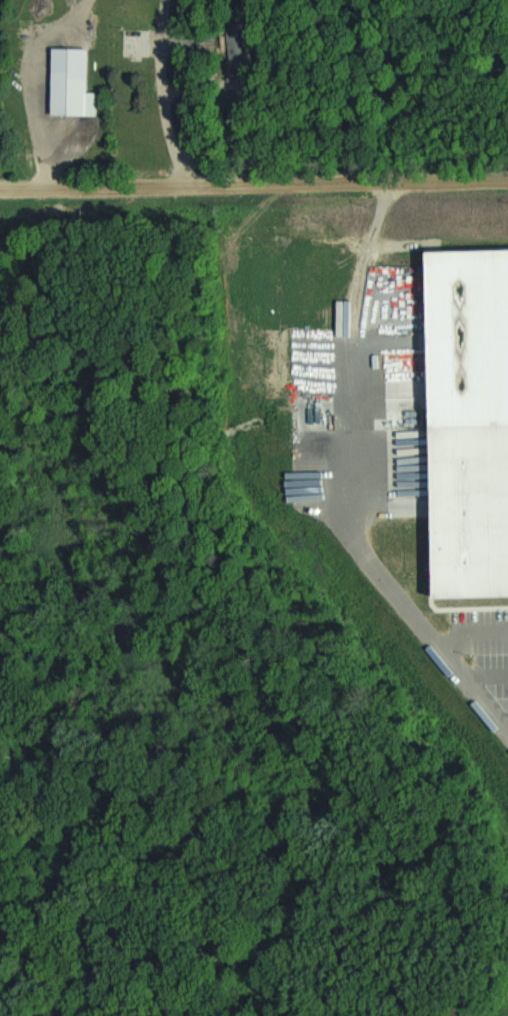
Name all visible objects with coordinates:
building: (251, 39)
building: (66, 82)
road: (254, 182)
building: (468, 425)
road: (370, 560)
road: (469, 632)
road: (485, 673)
road: (503, 718)

